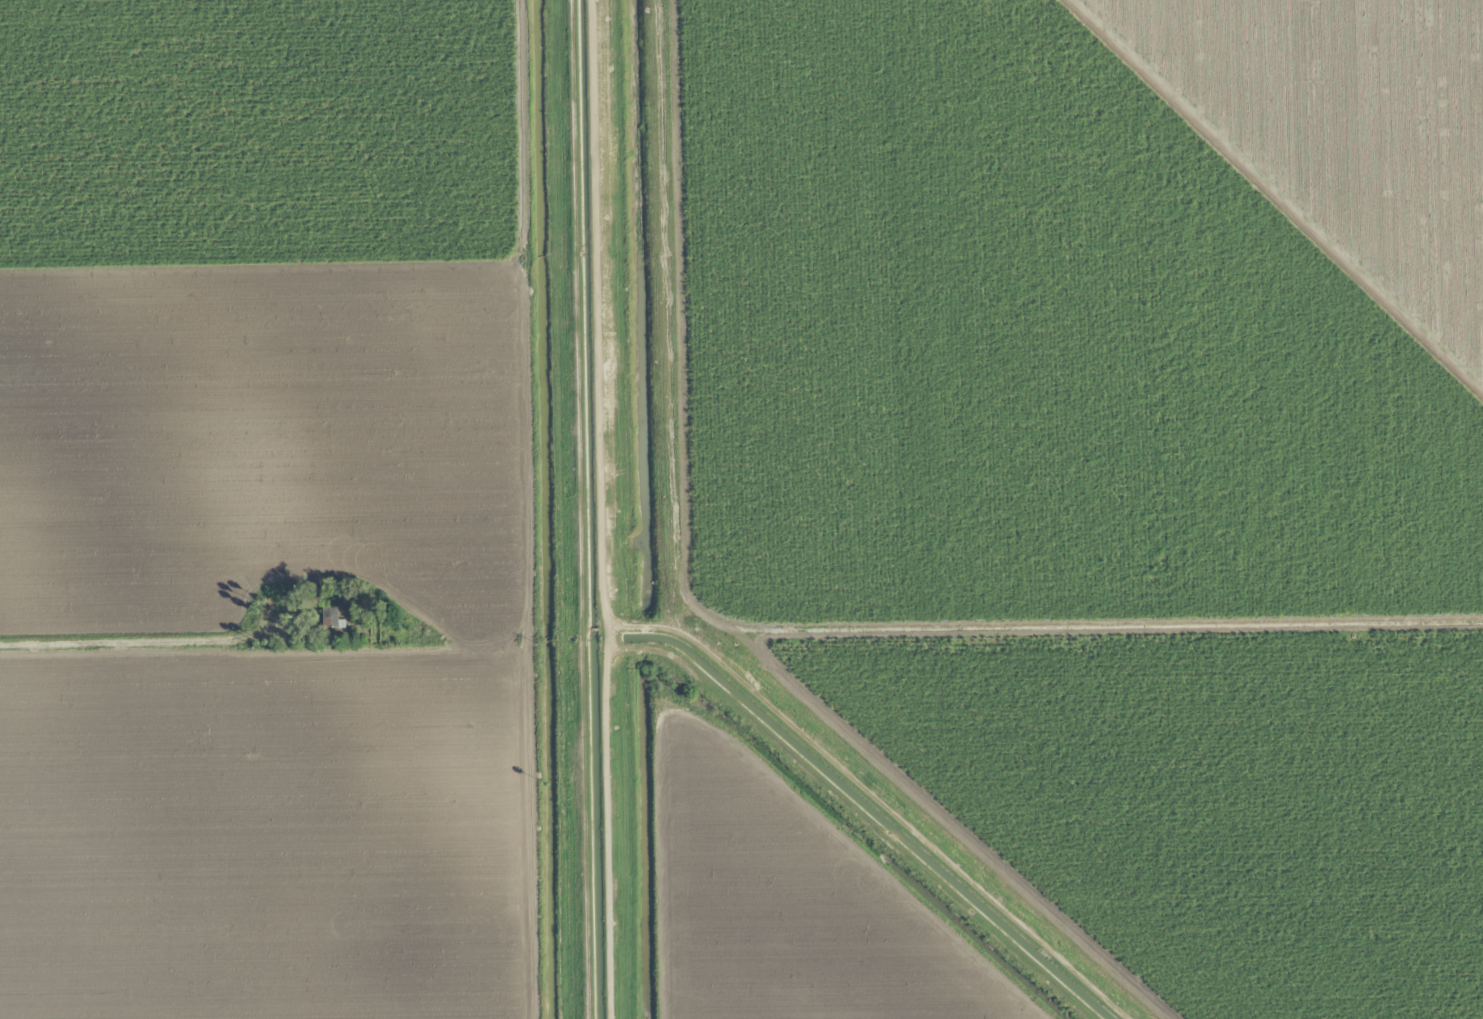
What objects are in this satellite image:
building: (330, 616)
road: (155, 622)

